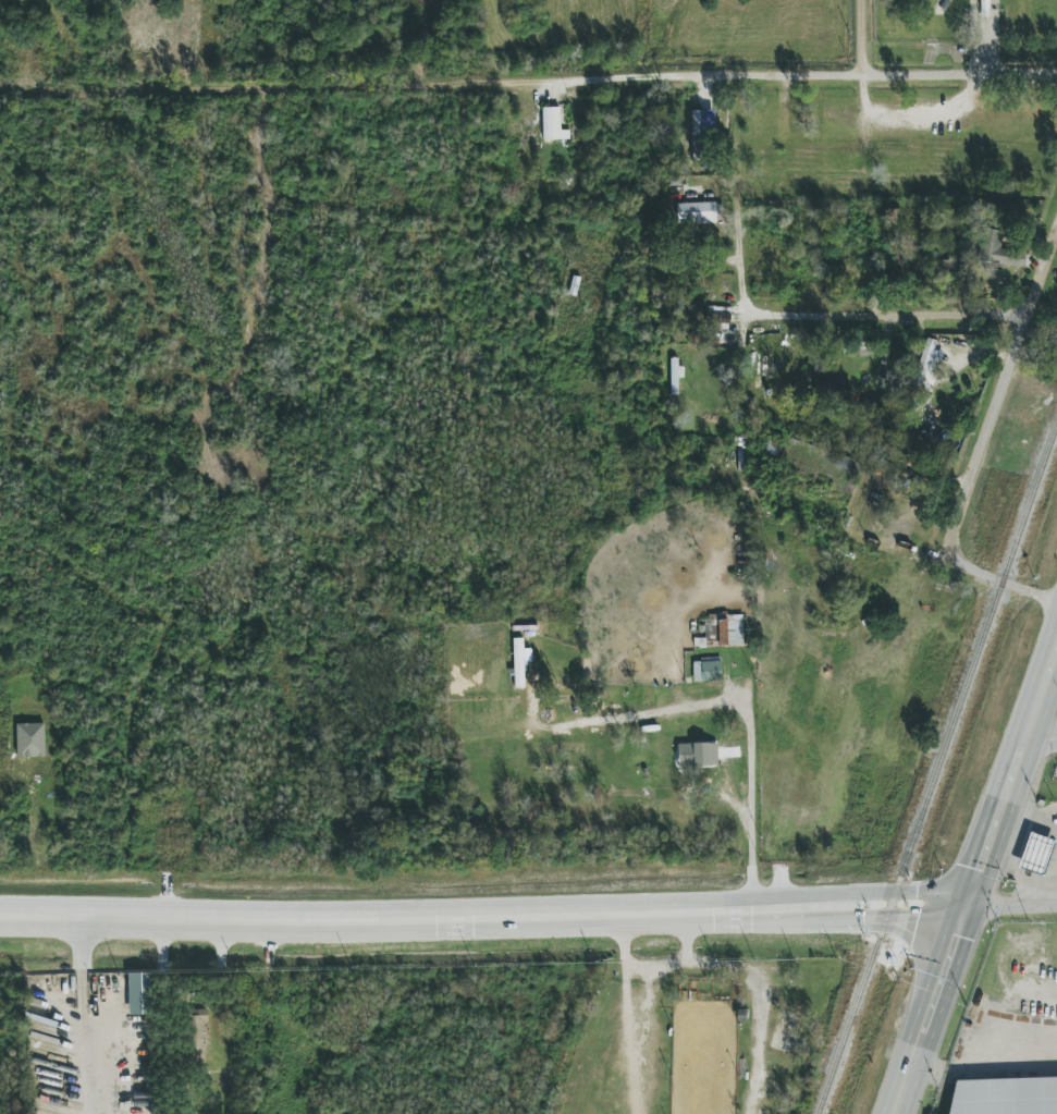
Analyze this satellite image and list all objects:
road: (865, 36)
road: (980, 36)
road: (781, 73)
building: (701, 132)
building: (700, 212)
building: (998, 250)
road: (740, 264)
road: (1045, 279)
road: (893, 314)
road: (1031, 320)
building: (927, 365)
road: (986, 444)
road: (1011, 586)
building: (518, 652)
building: (706, 670)
road: (1041, 737)
building: (698, 755)
railway: (937, 766)
road: (751, 799)
road: (1032, 820)
building: (1032, 854)
road: (975, 879)
road: (1011, 906)
road: (483, 918)
road: (631, 960)
building: (140, 993)
road: (759, 1003)
road: (650, 1008)
road: (83, 1016)
building: (198, 1036)
road: (985, 1070)
building: (1004, 1095)
building: (985, 1113)

